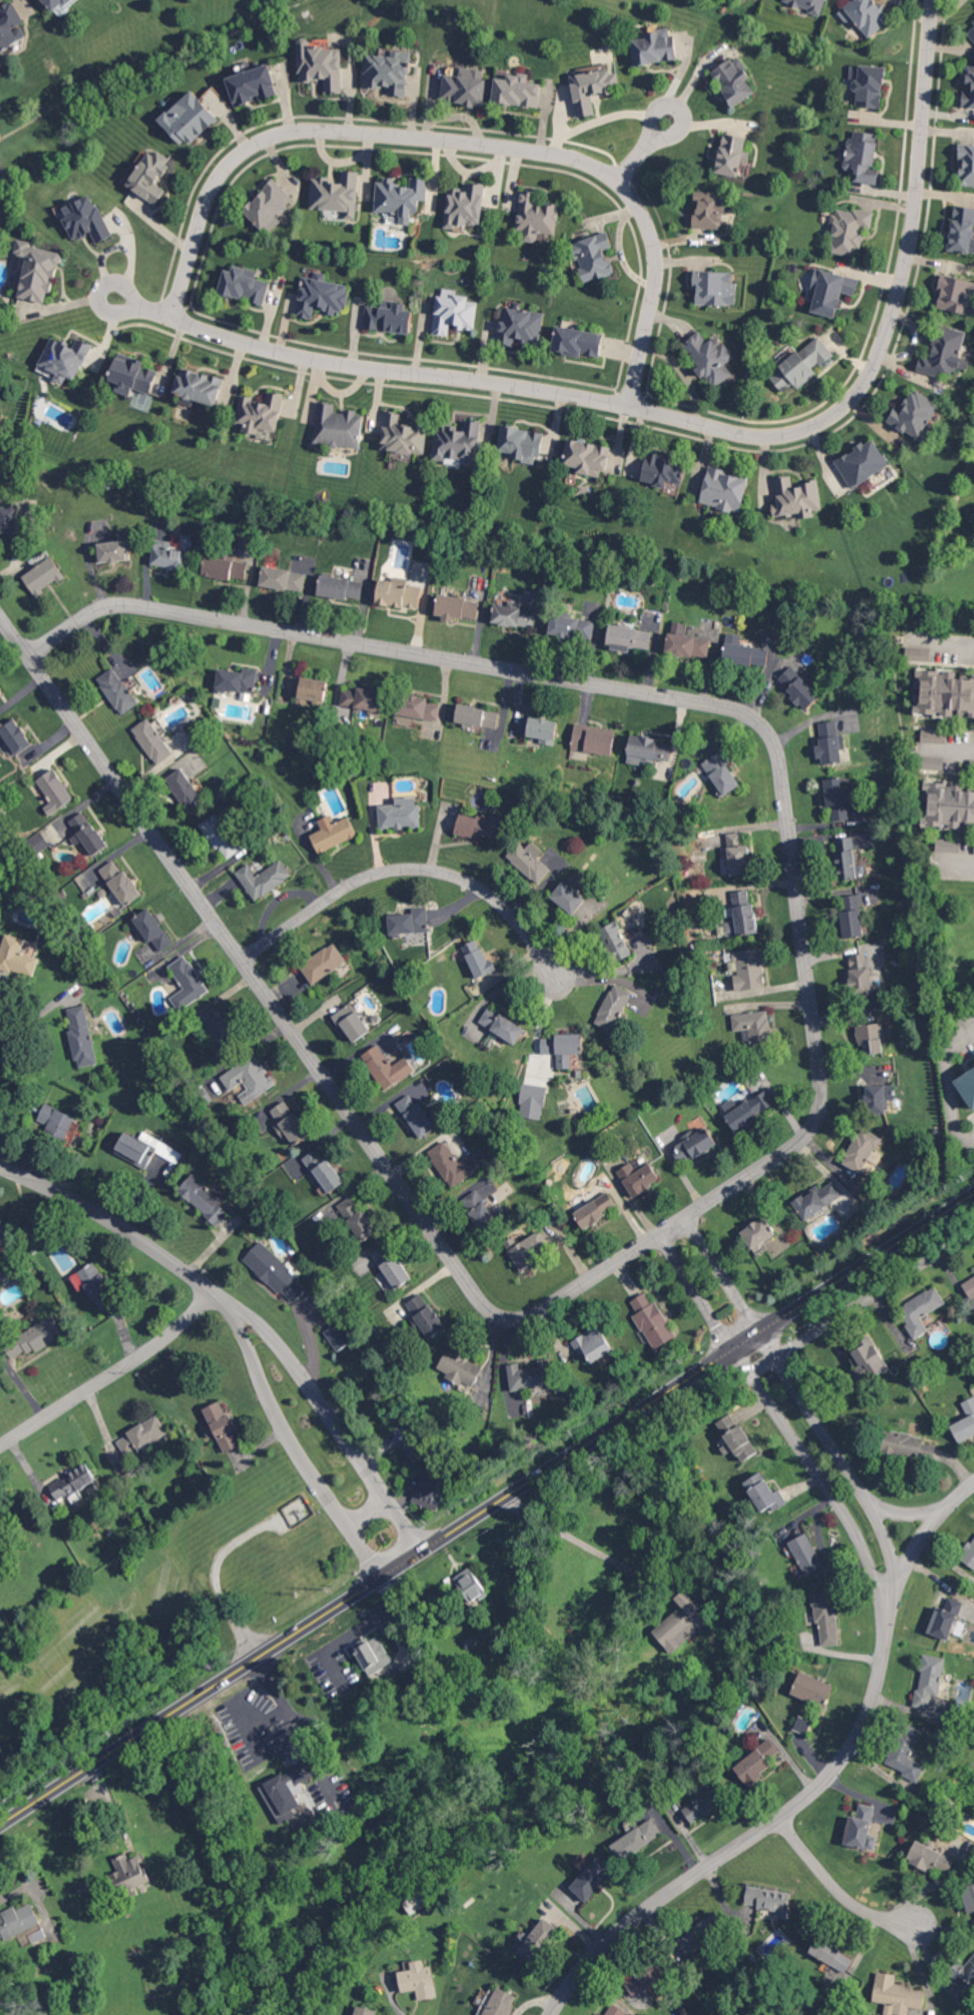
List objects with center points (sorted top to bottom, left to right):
building: (59, 5)
building: (808, 5)
building: (864, 14)
building: (10, 26)
building: (654, 47)
building: (320, 64)
building: (389, 72)
building: (732, 82)
building: (252, 85)
building: (465, 86)
building: (867, 86)
building: (590, 87)
building: (516, 91)
road: (680, 108)
building: (187, 118)
road: (458, 143)
building: (729, 155)
building: (862, 156)
road: (633, 163)
building: (966, 163)
building: (149, 175)
building: (336, 193)
building: (400, 198)
building: (268, 205)
building: (465, 205)
building: (709, 210)
building: (535, 217)
building: (84, 219)
building: (848, 229)
building: (962, 230)
building: (593, 256)
building: (37, 270)
building: (243, 284)
building: (715, 288)
building: (830, 290)
building: (320, 295)
building: (956, 295)
road: (106, 305)
building: (453, 312)
building: (388, 317)
building: (520, 326)
building: (578, 342)
building: (945, 352)
building: (710, 357)
building: (63, 359)
building: (804, 361)
building: (131, 375)
building: (198, 385)
building: (259, 412)
building: (913, 413)
road: (706, 424)
building: (337, 426)
building: (402, 435)
building: (3, 438)
building: (457, 443)
building: (521, 443)
building: (587, 456)
building: (862, 462)
building: (661, 470)
building: (723, 490)
building: (796, 497)
building: (9, 519)
building: (113, 551)
building: (168, 555)
building: (224, 568)
building: (43, 575)
building: (282, 578)
building: (340, 587)
building: (398, 592)
building: (456, 607)
building: (513, 615)
building: (571, 626)
building: (628, 638)
building: (686, 641)
road: (939, 641)
building: (743, 651)
building: (917, 654)
building: (236, 680)
building: (798, 687)
building: (117, 690)
building: (311, 690)
building: (943, 692)
road: (688, 694)
building: (363, 701)
building: (0, 705)
building: (417, 706)
building: (476, 716)
building: (542, 729)
building: (15, 735)
building: (593, 738)
building: (152, 741)
building: (829, 741)
building: (4, 745)
building: (648, 750)
road: (951, 750)
building: (932, 763)
building: (721, 773)
building: (184, 789)
building: (54, 790)
building: (837, 798)
building: (950, 805)
building: (400, 813)
building: (479, 825)
building: (84, 832)
building: (332, 832)
building: (221, 835)
building: (949, 845)
building: (737, 854)
building: (845, 857)
building: (529, 861)
road: (956, 861)
road: (410, 866)
building: (263, 878)
building: (568, 897)
building: (739, 914)
building: (851, 915)
building: (409, 921)
building: (152, 930)
building: (615, 941)
building: (16, 956)
building: (477, 957)
building: (322, 962)
building: (747, 968)
building: (859, 972)
building: (187, 982)
building: (612, 1006)
building: (351, 1022)
building: (501, 1025)
building: (754, 1025)
building: (221, 1026)
building: (80, 1035)
building: (870, 1038)
road: (299, 1040)
building: (568, 1048)
building: (387, 1067)
building: (248, 1078)
building: (966, 1081)
building: (879, 1097)
building: (532, 1101)
building: (744, 1111)
building: (415, 1115)
building: (54, 1120)
building: (289, 1123)
building: (693, 1144)
building: (162, 1148)
building: (134, 1149)
building: (861, 1150)
building: (458, 1162)
building: (315, 1168)
building: (638, 1176)
building: (203, 1199)
building: (817, 1199)
building: (484, 1201)
building: (595, 1210)
road: (110, 1218)
building: (356, 1218)
building: (758, 1231)
building: (1, 1237)
building: (524, 1249)
building: (391, 1265)
building: (274, 1271)
road: (688, 1278)
road: (727, 1280)
building: (384, 1281)
building: (93, 1285)
building: (969, 1286)
building: (920, 1309)
building: (425, 1315)
building: (652, 1321)
road: (823, 1327)
building: (40, 1334)
building: (339, 1335)
building: (592, 1344)
building: (867, 1357)
road: (109, 1368)
building: (458, 1368)
building: (530, 1375)
road: (329, 1406)
building: (965, 1422)
building: (222, 1426)
building: (141, 1435)
road: (290, 1435)
building: (736, 1437)
building: (907, 1445)
road: (834, 1449)
building: (411, 1451)
road: (814, 1472)
building: (72, 1483)
building: (429, 1492)
building: (763, 1492)
road: (487, 1508)
road: (371, 1511)
road: (926, 1514)
building: (0, 1528)
road: (925, 1535)
building: (805, 1553)
building: (969, 1553)
road: (668, 1579)
building: (469, 1584)
road: (894, 1586)
building: (826, 1617)
building: (945, 1617)
building: (681, 1622)
building: (372, 1654)
building: (929, 1679)
building: (812, 1689)
building: (807, 1712)
building: (802, 1725)
road: (254, 1728)
road: (299, 1729)
road: (256, 1743)
building: (906, 1752)
building: (756, 1762)
building: (286, 1790)
building: (704, 1805)
building: (860, 1828)
road: (760, 1833)
building: (636, 1839)
building: (931, 1858)
building: (130, 1871)
building: (592, 1878)
road: (835, 1886)
road: (10, 1893)
building: (968, 1895)
building: (769, 1900)
building: (16, 1921)
building: (700, 1933)
building: (537, 1940)
building: (831, 1954)
building: (967, 1970)
building: (645, 1976)
building: (418, 1980)
building: (896, 1995)
building: (500, 2002)
building: (614, 2010)
building: (364, 2011)
building: (598, 2014)

